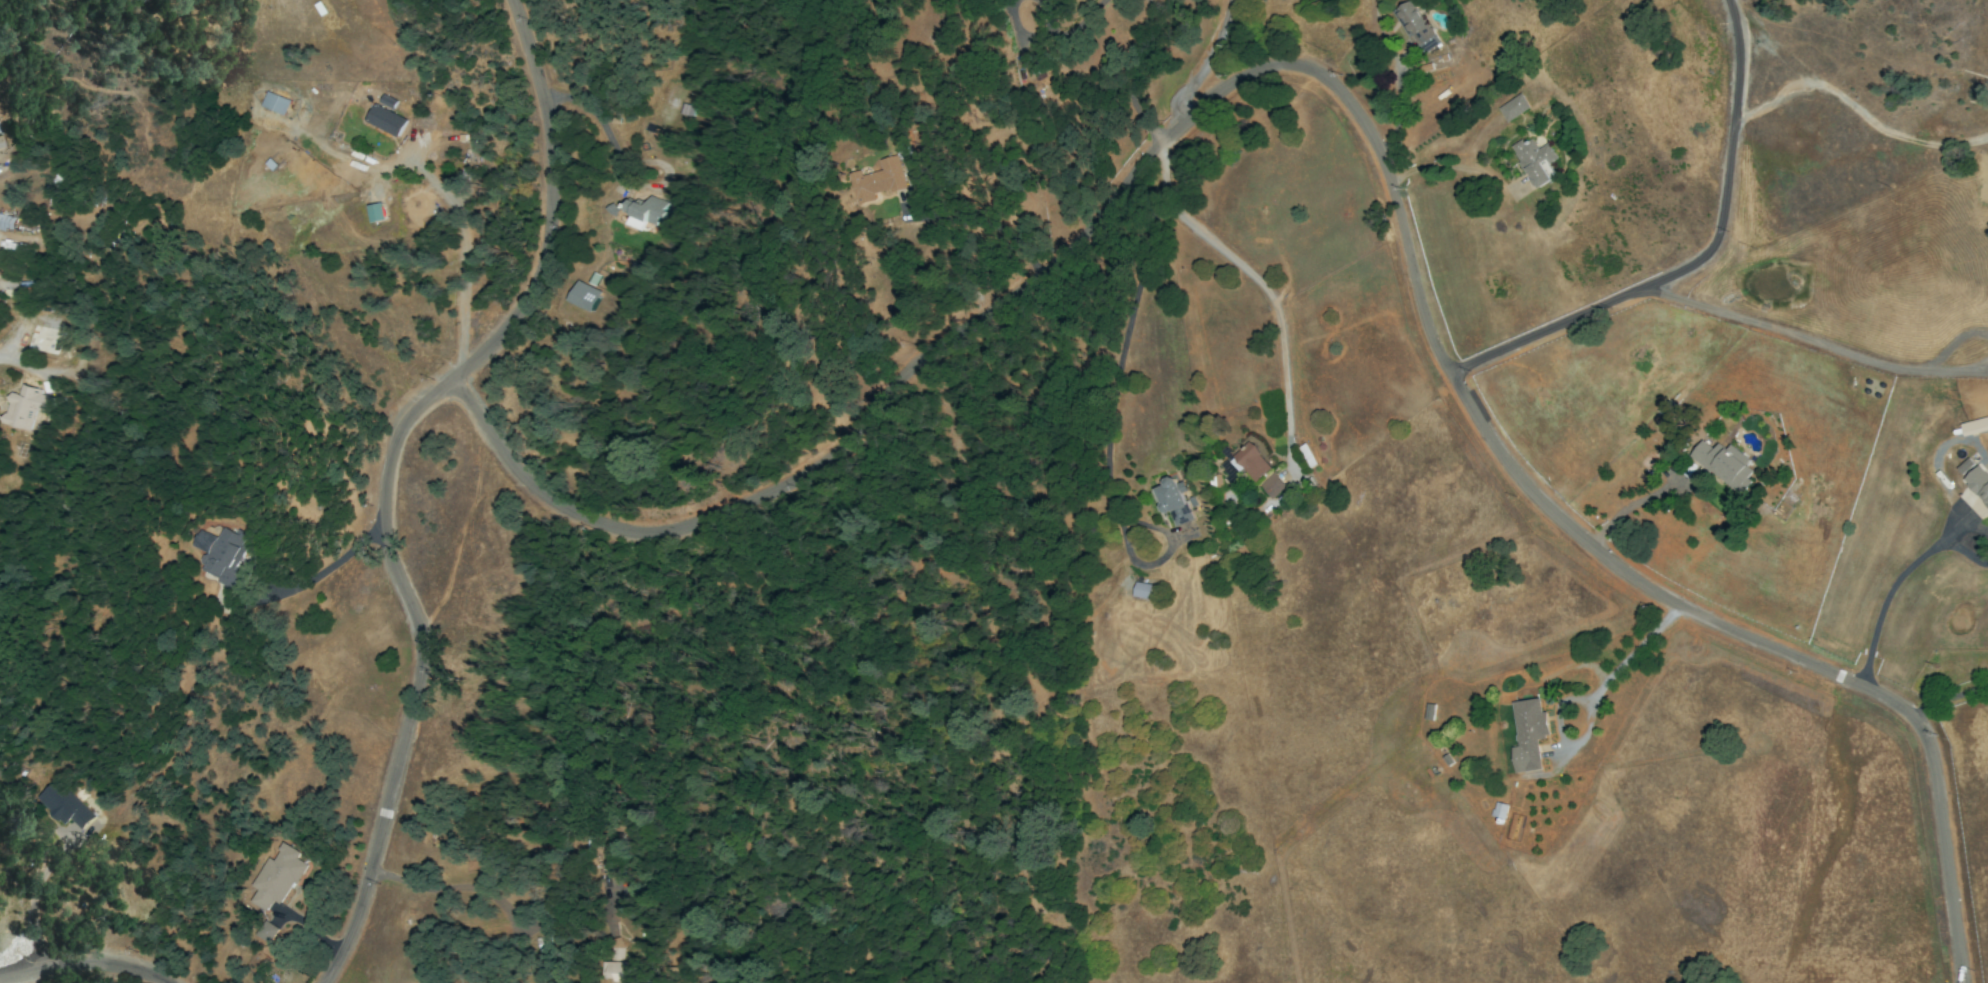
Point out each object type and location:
road: (1049, 17)
road: (1082, 23)
building: (1417, 26)
road: (1021, 31)
road: (1205, 63)
road: (1259, 68)
road: (1135, 79)
building: (275, 102)
road: (1395, 107)
building: (1513, 107)
road: (1859, 113)
building: (385, 120)
road: (1734, 123)
building: (1535, 161)
building: (878, 180)
road: (442, 195)
building: (642, 212)
building: (377, 213)
building: (6, 222)
road: (978, 225)
road: (1262, 286)
building: (582, 295)
road: (1586, 314)
road: (1815, 341)
road: (5, 356)
road: (1119, 362)
building: (26, 408)
building: (1975, 426)
building: (1245, 462)
building: (1724, 464)
road: (386, 474)
building: (1975, 480)
building: (1271, 485)
building: (1172, 501)
road: (1632, 502)
road: (1960, 526)
road: (1962, 549)
building: (219, 554)
road: (326, 570)
building: (1141, 590)
road: (1882, 604)
road: (1627, 658)
road: (1950, 698)
building: (1528, 734)
building: (63, 805)
building: (1499, 810)
road: (1947, 869)
building: (276, 877)
road: (470, 887)
road: (63, 905)
road: (85, 964)
building: (611, 972)

